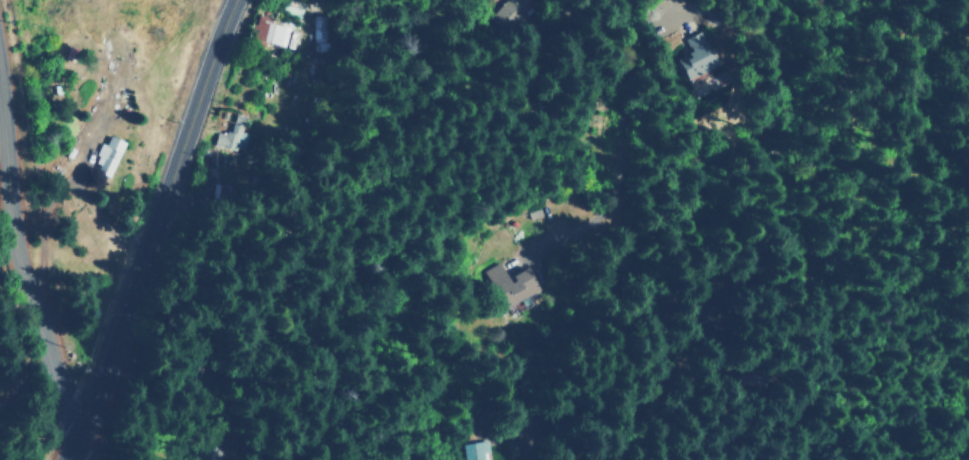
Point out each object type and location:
building: (513, 14)
building: (268, 31)
building: (693, 55)
road: (859, 130)
building: (229, 138)
building: (104, 156)
road: (152, 231)
building: (509, 284)
road: (29, 297)
road: (77, 451)
building: (473, 451)

